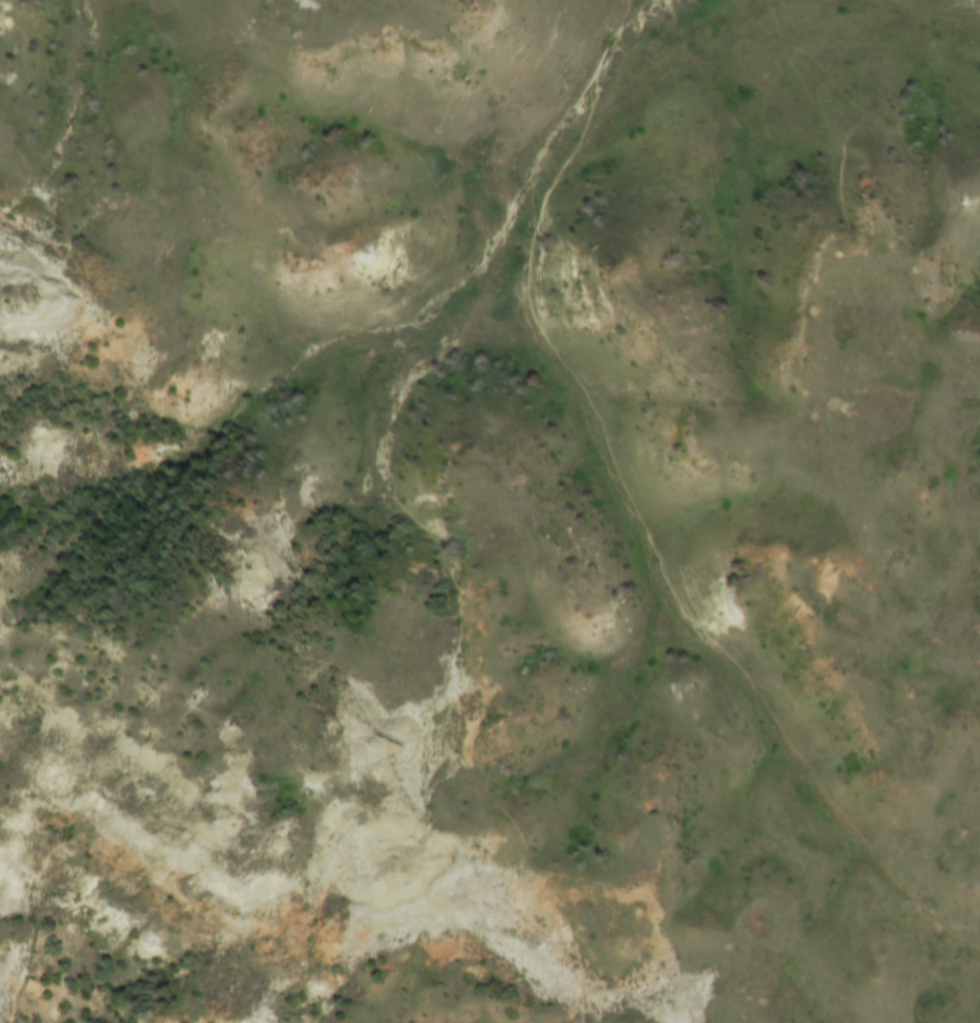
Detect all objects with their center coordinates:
road: (661, 505)

